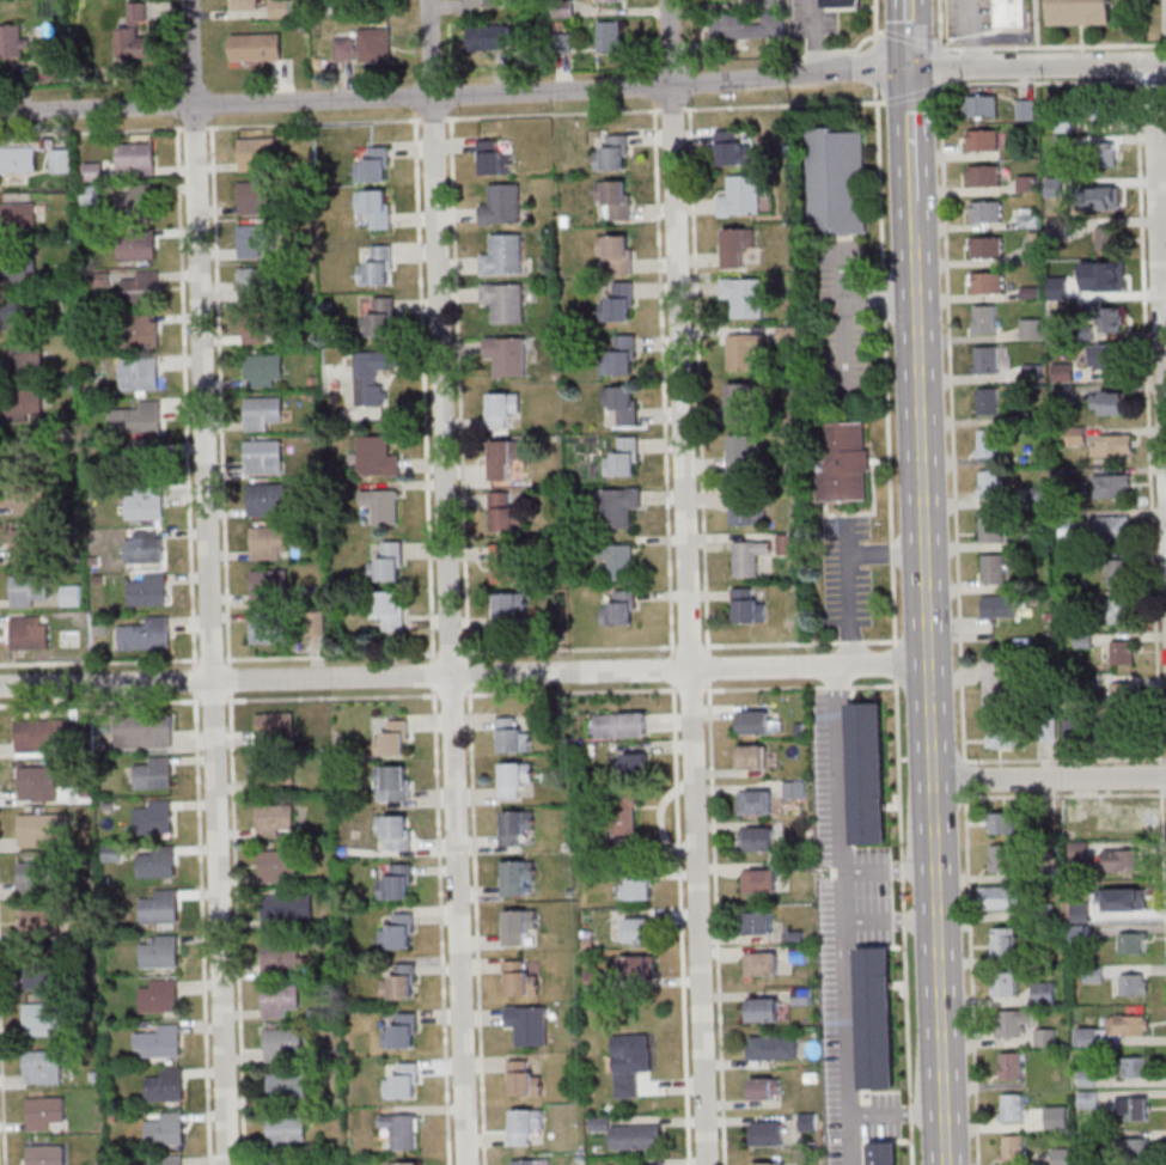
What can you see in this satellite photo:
building: (608, 0)
building: (482, 2)
building: (243, 4)
building: (843, 4)
building: (279, 8)
building: (1011, 12)
building: (1081, 12)
road: (874, 20)
building: (746, 26)
road: (878, 31)
building: (134, 33)
building: (610, 35)
road: (911, 36)
building: (487, 37)
road: (816, 37)
road: (910, 38)
building: (12, 41)
road: (1052, 45)
building: (254, 47)
building: (362, 49)
road: (825, 51)
road: (770, 53)
road: (875, 66)
road: (1038, 68)
road: (768, 72)
traffic signals: (912, 72)
road: (1042, 81)
road: (1155, 81)
road: (456, 93)
road: (910, 93)
road: (782, 104)
building: (983, 105)
road: (671, 108)
building: (1026, 109)
building: (1098, 110)
road: (330, 121)
road: (914, 135)
building: (983, 139)
building: (733, 146)
building: (612, 152)
building: (256, 153)
building: (1104, 154)
building: (134, 158)
building: (493, 158)
building: (17, 159)
building: (60, 160)
building: (372, 165)
building: (92, 171)
building: (984, 175)
building: (836, 182)
building: (92, 193)
building: (1105, 195)
building: (256, 196)
building: (740, 196)
building: (615, 197)
building: (134, 201)
building: (501, 205)
building: (374, 207)
building: (987, 211)
building: (17, 215)
road: (916, 219)
building: (1098, 238)
building: (252, 240)
building: (739, 240)
road: (1160, 242)
building: (135, 246)
building: (987, 246)
building: (615, 254)
building: (502, 255)
building: (377, 266)
building: (18, 272)
building: (257, 281)
building: (988, 282)
building: (139, 287)
building: (744, 295)
road: (879, 298)
building: (503, 301)
building: (618, 301)
building: (19, 311)
road: (841, 316)
building: (985, 317)
building: (379, 318)
building: (1113, 318)
building: (258, 327)
building: (1031, 328)
building: (140, 329)
building: (741, 349)
building: (622, 353)
building: (506, 354)
building: (22, 355)
building: (1107, 355)
building: (990, 359)
road: (886, 366)
building: (263, 368)
building: (138, 373)
building: (370, 374)
road: (698, 379)
road: (663, 380)
road: (458, 386)
road: (422, 389)
road: (218, 396)
road: (184, 397)
building: (989, 401)
building: (621, 402)
building: (740, 402)
building: (1110, 402)
building: (23, 403)
building: (502, 408)
building: (261, 411)
building: (136, 417)
road: (1148, 419)
building: (1076, 434)
building: (989, 443)
building: (1115, 444)
building: (26, 449)
building: (743, 453)
building: (263, 456)
building: (377, 456)
building: (503, 457)
building: (623, 457)
building: (843, 460)
building: (136, 462)
building: (990, 483)
building: (1115, 484)
building: (22, 498)
building: (267, 499)
building: (381, 505)
building: (617, 506)
building: (745, 506)
building: (147, 507)
building: (506, 512)
building: (991, 526)
building: (1112, 527)
building: (269, 541)
building: (26, 543)
building: (786, 543)
building: (144, 547)
building: (749, 556)
building: (618, 560)
building: (387, 562)
building: (507, 562)
building: (994, 568)
building: (1118, 572)
road: (208, 581)
road: (450, 582)
road: (689, 582)
road: (958, 582)
building: (268, 584)
building: (28, 588)
building: (148, 588)
building: (71, 594)
building: (747, 605)
building: (999, 605)
building: (511, 606)
building: (389, 609)
building: (619, 609)
building: (1119, 610)
building: (265, 627)
building: (25, 629)
building: (146, 634)
road: (914, 639)
road: (801, 642)
road: (689, 646)
building: (1123, 652)
road: (337, 654)
road: (896, 654)
road: (672, 666)
road: (708, 666)
road: (468, 672)
road: (432, 673)
road: (464, 675)
road: (227, 678)
road: (194, 679)
building: (997, 683)
road: (690, 689)
building: (1124, 694)
road: (338, 696)
road: (930, 702)
building: (753, 721)
building: (275, 724)
building: (622, 724)
building: (144, 731)
building: (38, 734)
building: (512, 736)
building: (1002, 736)
building: (391, 738)
building: (753, 756)
road: (1064, 758)
building: (633, 763)
road: (840, 766)
building: (868, 771)
building: (154, 773)
building: (270, 774)
building: (514, 777)
road: (1049, 779)
building: (393, 780)
road: (1161, 782)
building: (37, 783)
building: (795, 788)
road: (1063, 793)
building: (757, 801)
building: (153, 816)
building: (275, 817)
building: (1118, 817)
building: (624, 821)
building: (1001, 822)
building: (44, 825)
building: (515, 825)
road: (902, 828)
building: (395, 830)
building: (758, 838)
road: (1164, 846)
building: (1005, 858)
building: (1123, 859)
building: (158, 861)
road: (891, 864)
building: (277, 866)
building: (517, 876)
building: (37, 878)
building: (761, 879)
building: (396, 882)
building: (637, 889)
road: (845, 893)
building: (1000, 896)
building: (1130, 896)
building: (160, 907)
building: (287, 909)
road: (892, 919)
road: (716, 922)
building: (759, 922)
building: (41, 923)
road: (680, 923)
building: (518, 925)
road: (441, 926)
road: (476, 926)
road: (202, 928)
road: (236, 928)
building: (639, 928)
building: (398, 932)
building: (1133, 941)
building: (1003, 943)
building: (160, 951)
building: (799, 953)
building: (281, 957)
building: (762, 963)
building: (639, 964)
building: (41, 974)
building: (520, 978)
building: (401, 981)
building: (1005, 982)
building: (1134, 983)
building: (1045, 992)
building: (158, 995)
building: (279, 999)
building: (763, 1008)
building: (877, 1017)
building: (42, 1018)
building: (1013, 1021)
building: (529, 1023)
building: (1127, 1024)
building: (402, 1031)
building: (1046, 1036)
building: (160, 1039)
building: (285, 1044)
building: (773, 1047)
building: (630, 1062)
road: (851, 1063)
building: (1012, 1065)
building: (43, 1066)
building: (1136, 1066)
building: (524, 1078)
building: (403, 1081)
building: (166, 1085)
building: (285, 1086)
road: (2, 1087)
building: (767, 1087)
building: (1088, 1098)
building: (1012, 1106)
building: (1133, 1108)
building: (45, 1111)
building: (598, 1123)
building: (525, 1124)
building: (165, 1128)
building: (403, 1129)
building: (285, 1130)
building: (768, 1133)
building: (636, 1136)
road: (854, 1140)
building: (1013, 1147)
building: (1134, 1148)
building: (885, 1153)
building: (47, 1154)
building: (170, 1160)
building: (524, 1161)
building: (287, 1163)
building: (404, 1163)
building: (769, 1163)

